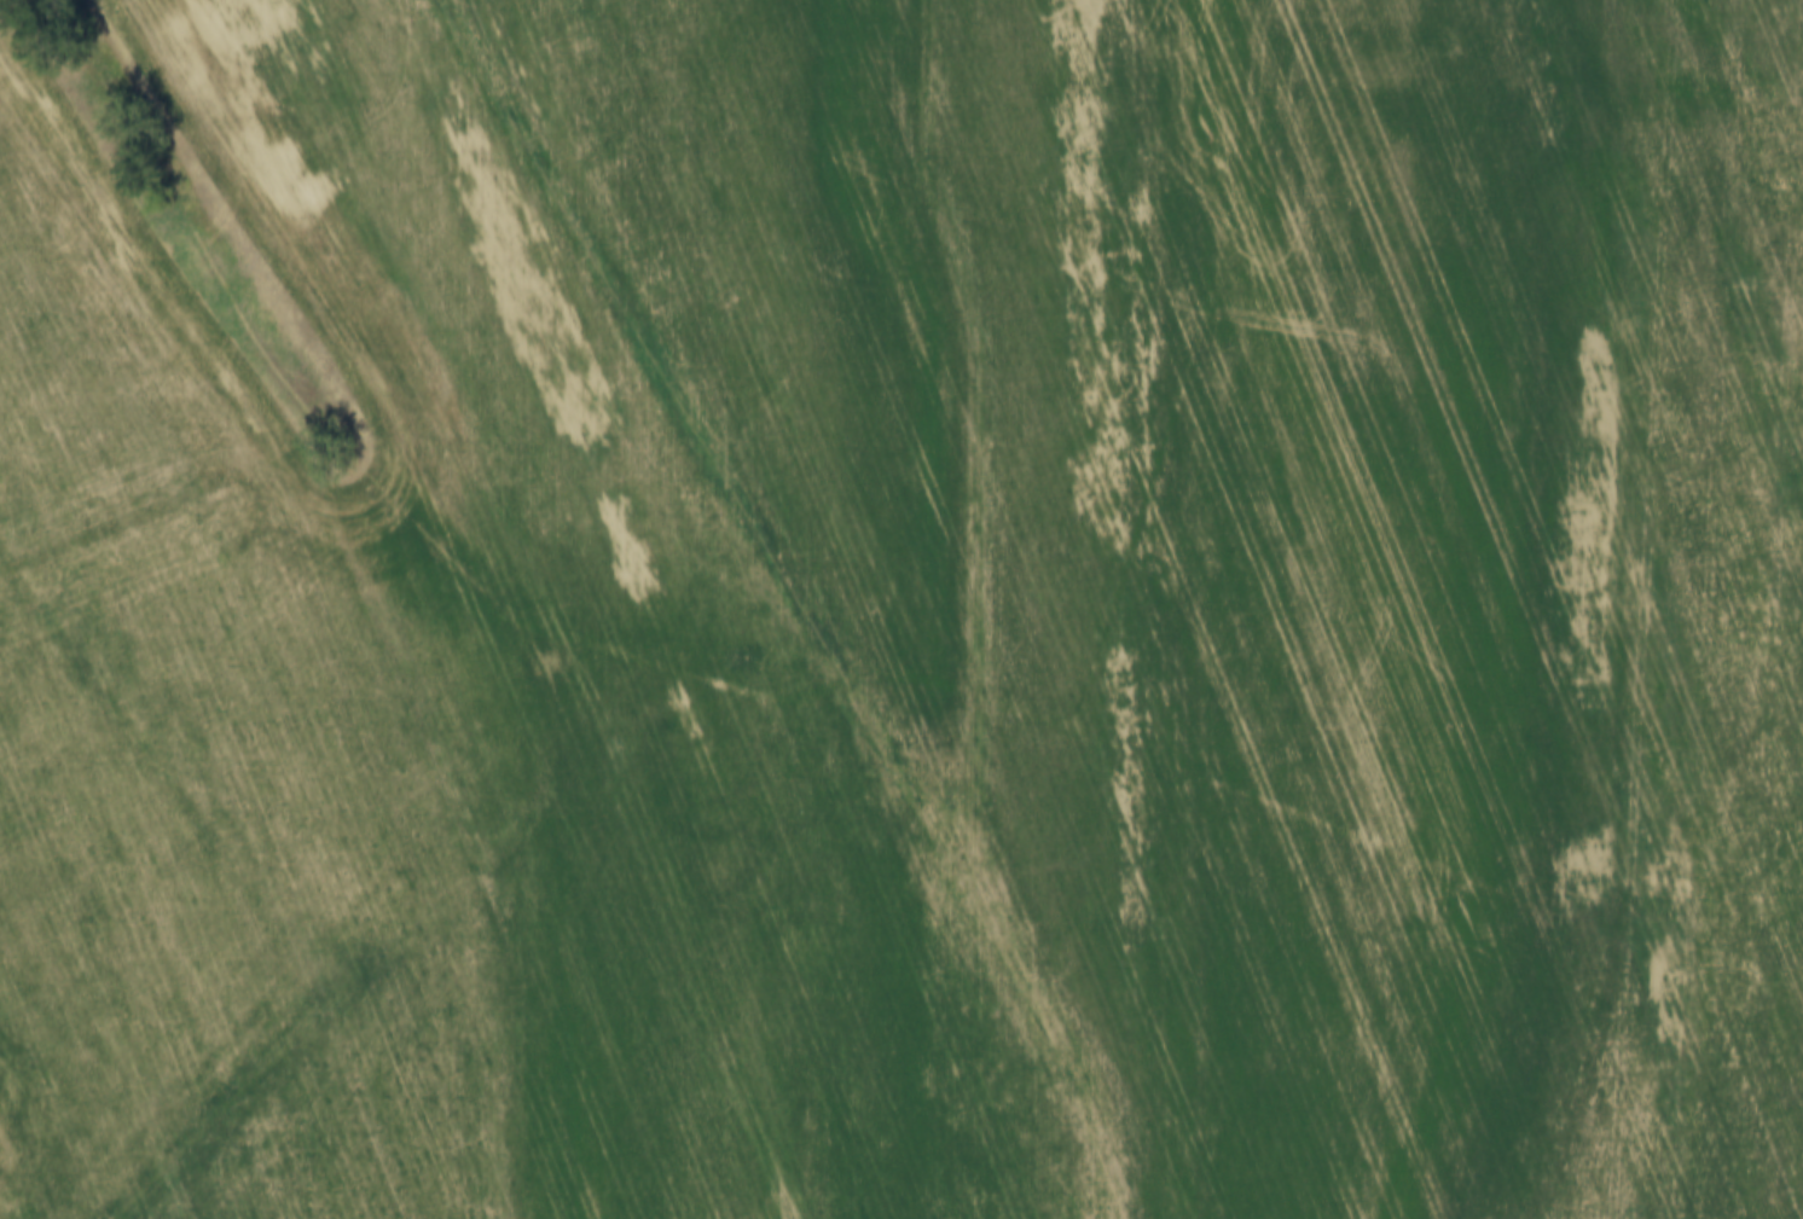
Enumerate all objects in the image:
road: (522, 550)

